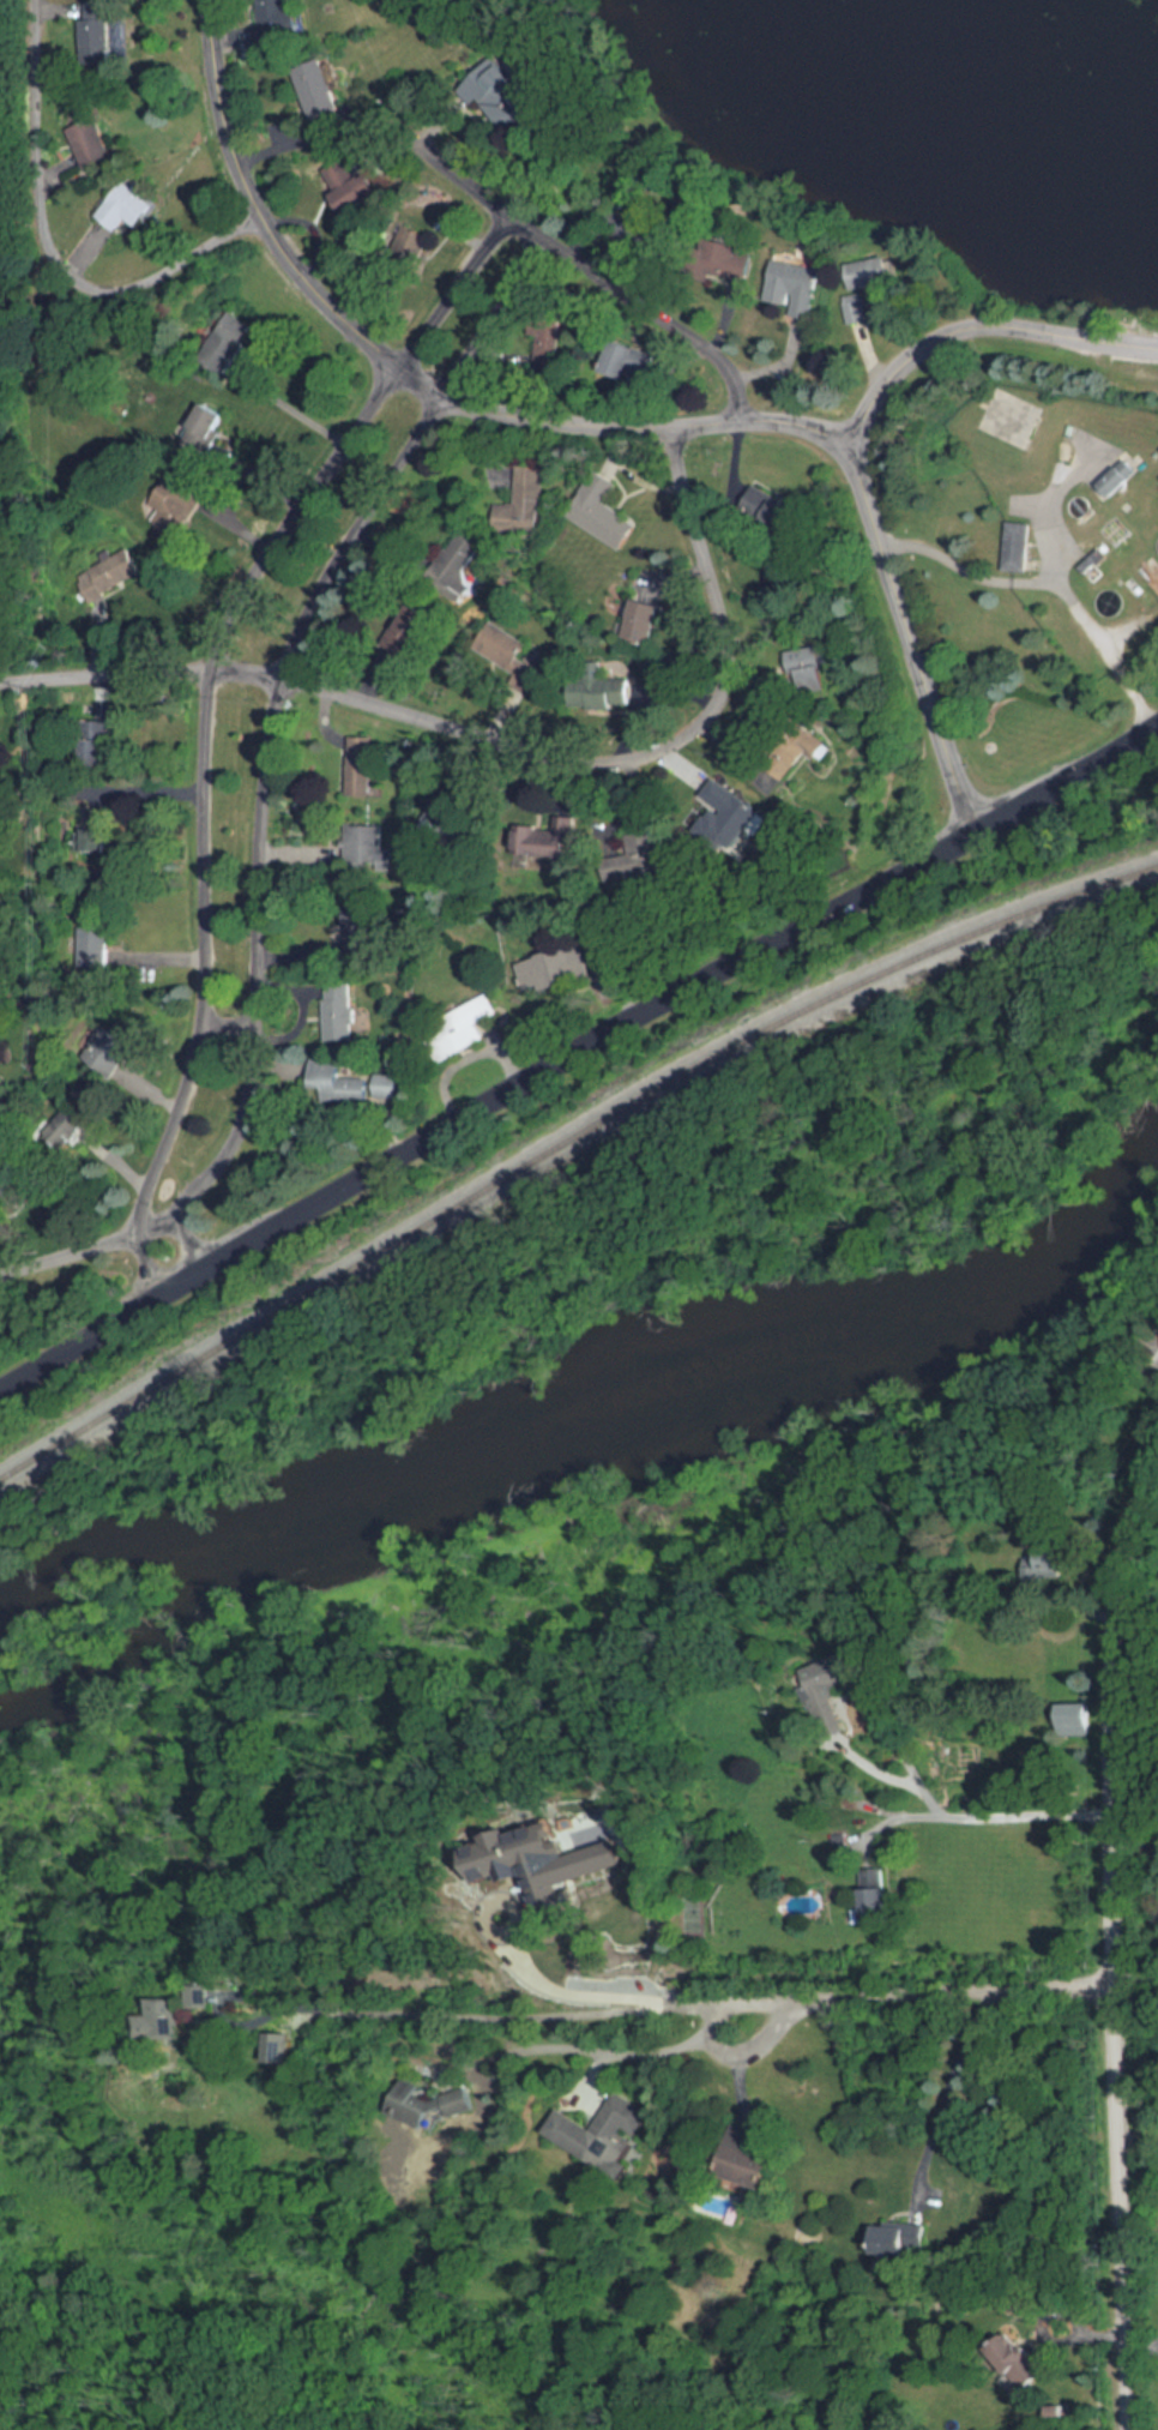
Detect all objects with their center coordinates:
building: (277, 19)
building: (319, 91)
building: (350, 187)
road: (46, 251)
road: (599, 270)
building: (869, 272)
building: (797, 285)
building: (855, 308)
road: (976, 326)
road: (283, 409)
road: (610, 423)
building: (204, 427)
building: (1116, 477)
building: (519, 504)
building: (173, 507)
road: (1043, 509)
building: (601, 511)
building: (1014, 546)
building: (457, 564)
building: (108, 575)
road: (1050, 587)
building: (643, 620)
building: (418, 621)
road: (206, 711)
road: (270, 726)
road: (506, 744)
building: (360, 765)
building: (732, 814)
building: (450, 817)
building: (548, 841)
building: (363, 848)
building: (646, 854)
building: (360, 926)
building: (539, 973)
road: (675, 991)
building: (337, 1010)
road: (225, 1015)
building: (458, 1030)
building: (104, 1048)
building: (336, 1083)
building: (385, 1087)
railway: (563, 1142)
park: (746, 1173)
building: (4, 1187)
road: (159, 1221)
road: (71, 1253)
road: (99, 1328)
river: (593, 1427)
building: (1048, 1562)
building: (825, 1683)
building: (1075, 1720)
road: (905, 1760)
road: (993, 1817)
building: (875, 1905)
road: (1114, 1948)
road: (1135, 1979)
road: (925, 1992)
road: (647, 1995)
building: (198, 1997)
building: (168, 2017)
road: (529, 2021)
road: (599, 2044)
building: (276, 2049)
road: (949, 2081)
building: (422, 2104)
building: (603, 2133)
building: (899, 2240)
road: (1050, 2335)
road: (1154, 2346)
road: (1139, 2351)
road: (1154, 2352)

